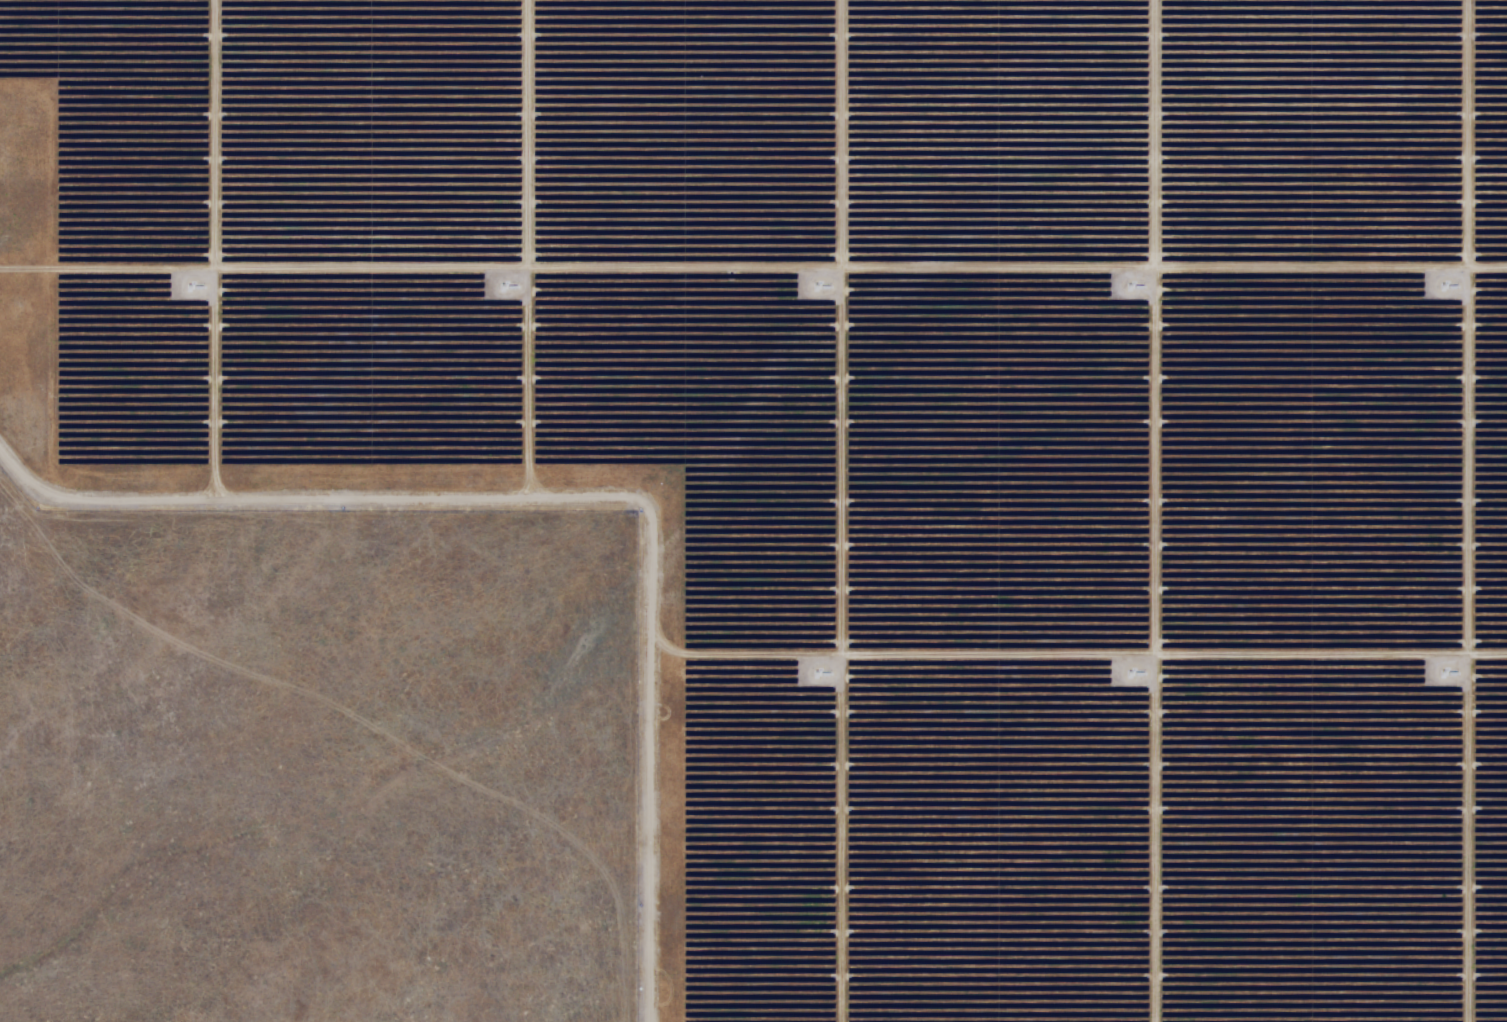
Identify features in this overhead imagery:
solar farm: (775, 497)

